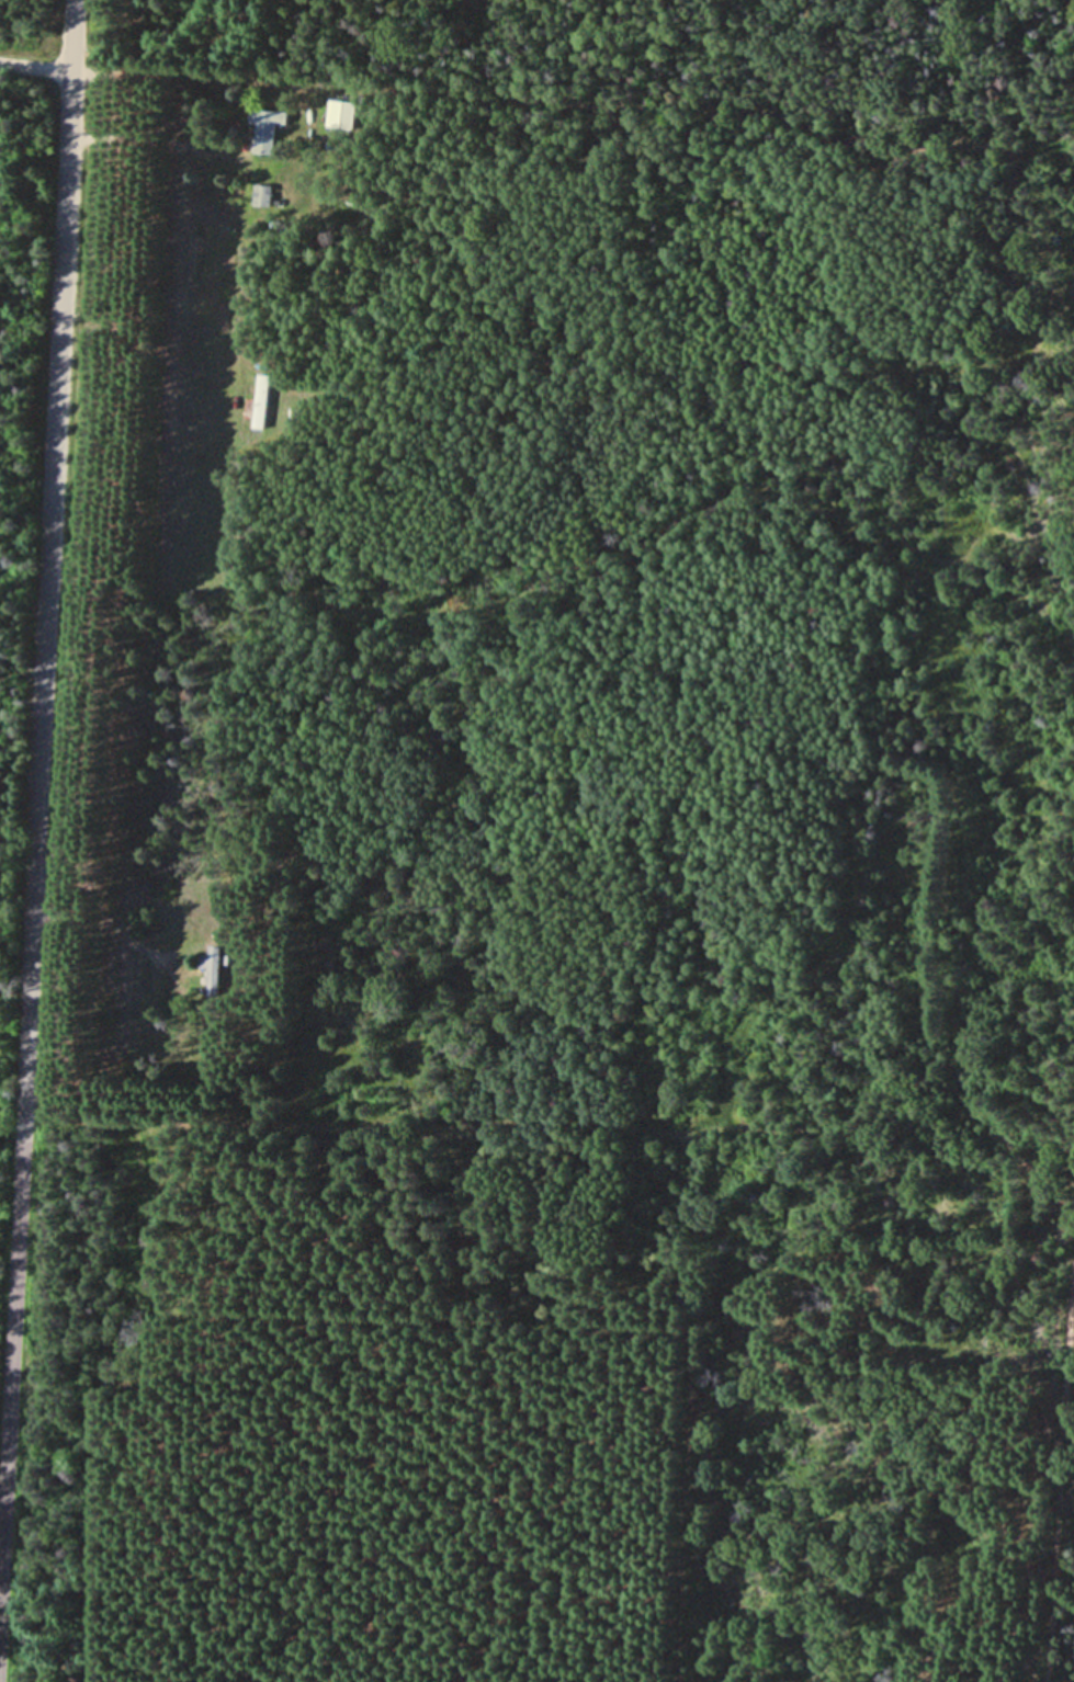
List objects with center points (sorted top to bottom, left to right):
road: (35, 70)
building: (343, 115)
building: (263, 130)
building: (258, 196)
building: (257, 405)
road: (30, 800)
building: (213, 969)

